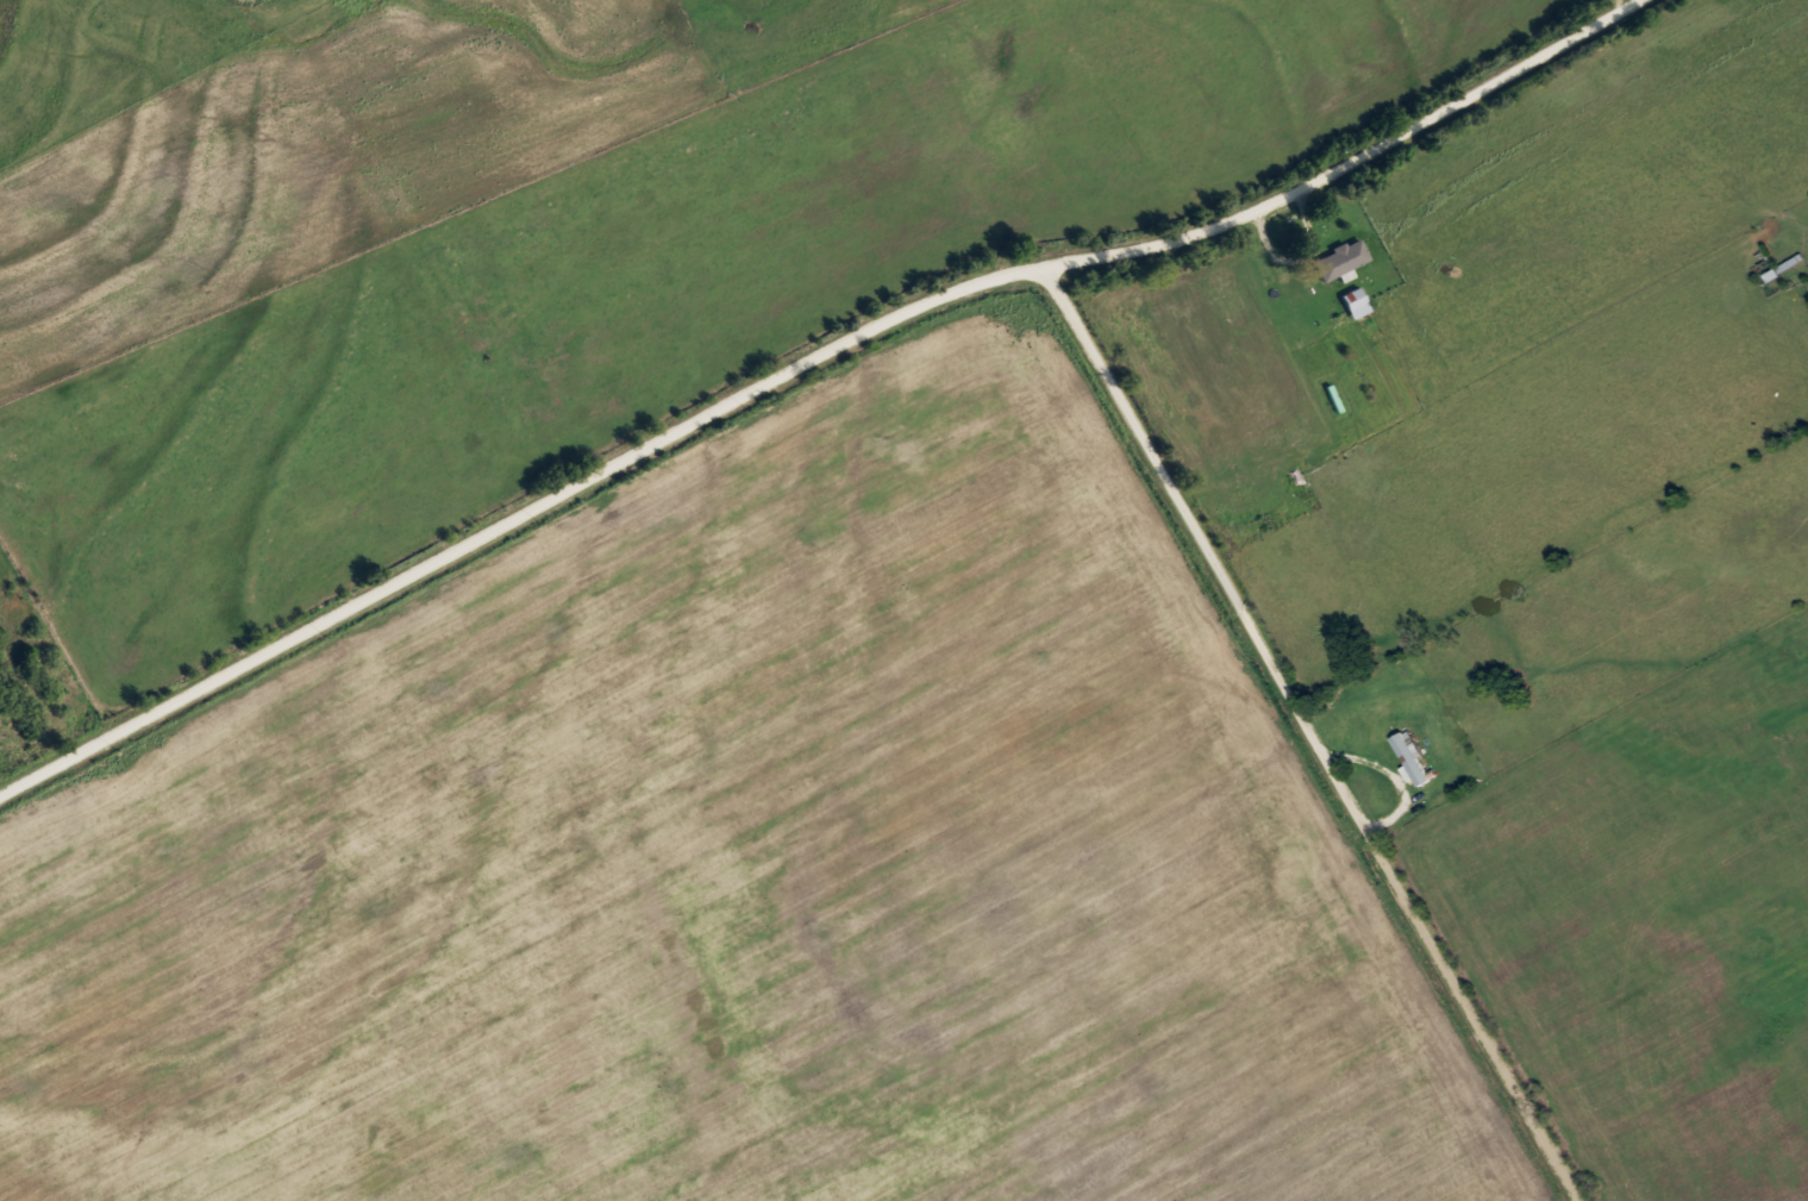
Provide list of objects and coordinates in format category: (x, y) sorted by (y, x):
building: (1334, 257)
building: (1762, 263)
building: (1350, 300)
road: (1302, 314)
road: (803, 362)
building: (1285, 476)
road: (1313, 730)
building: (1406, 757)

